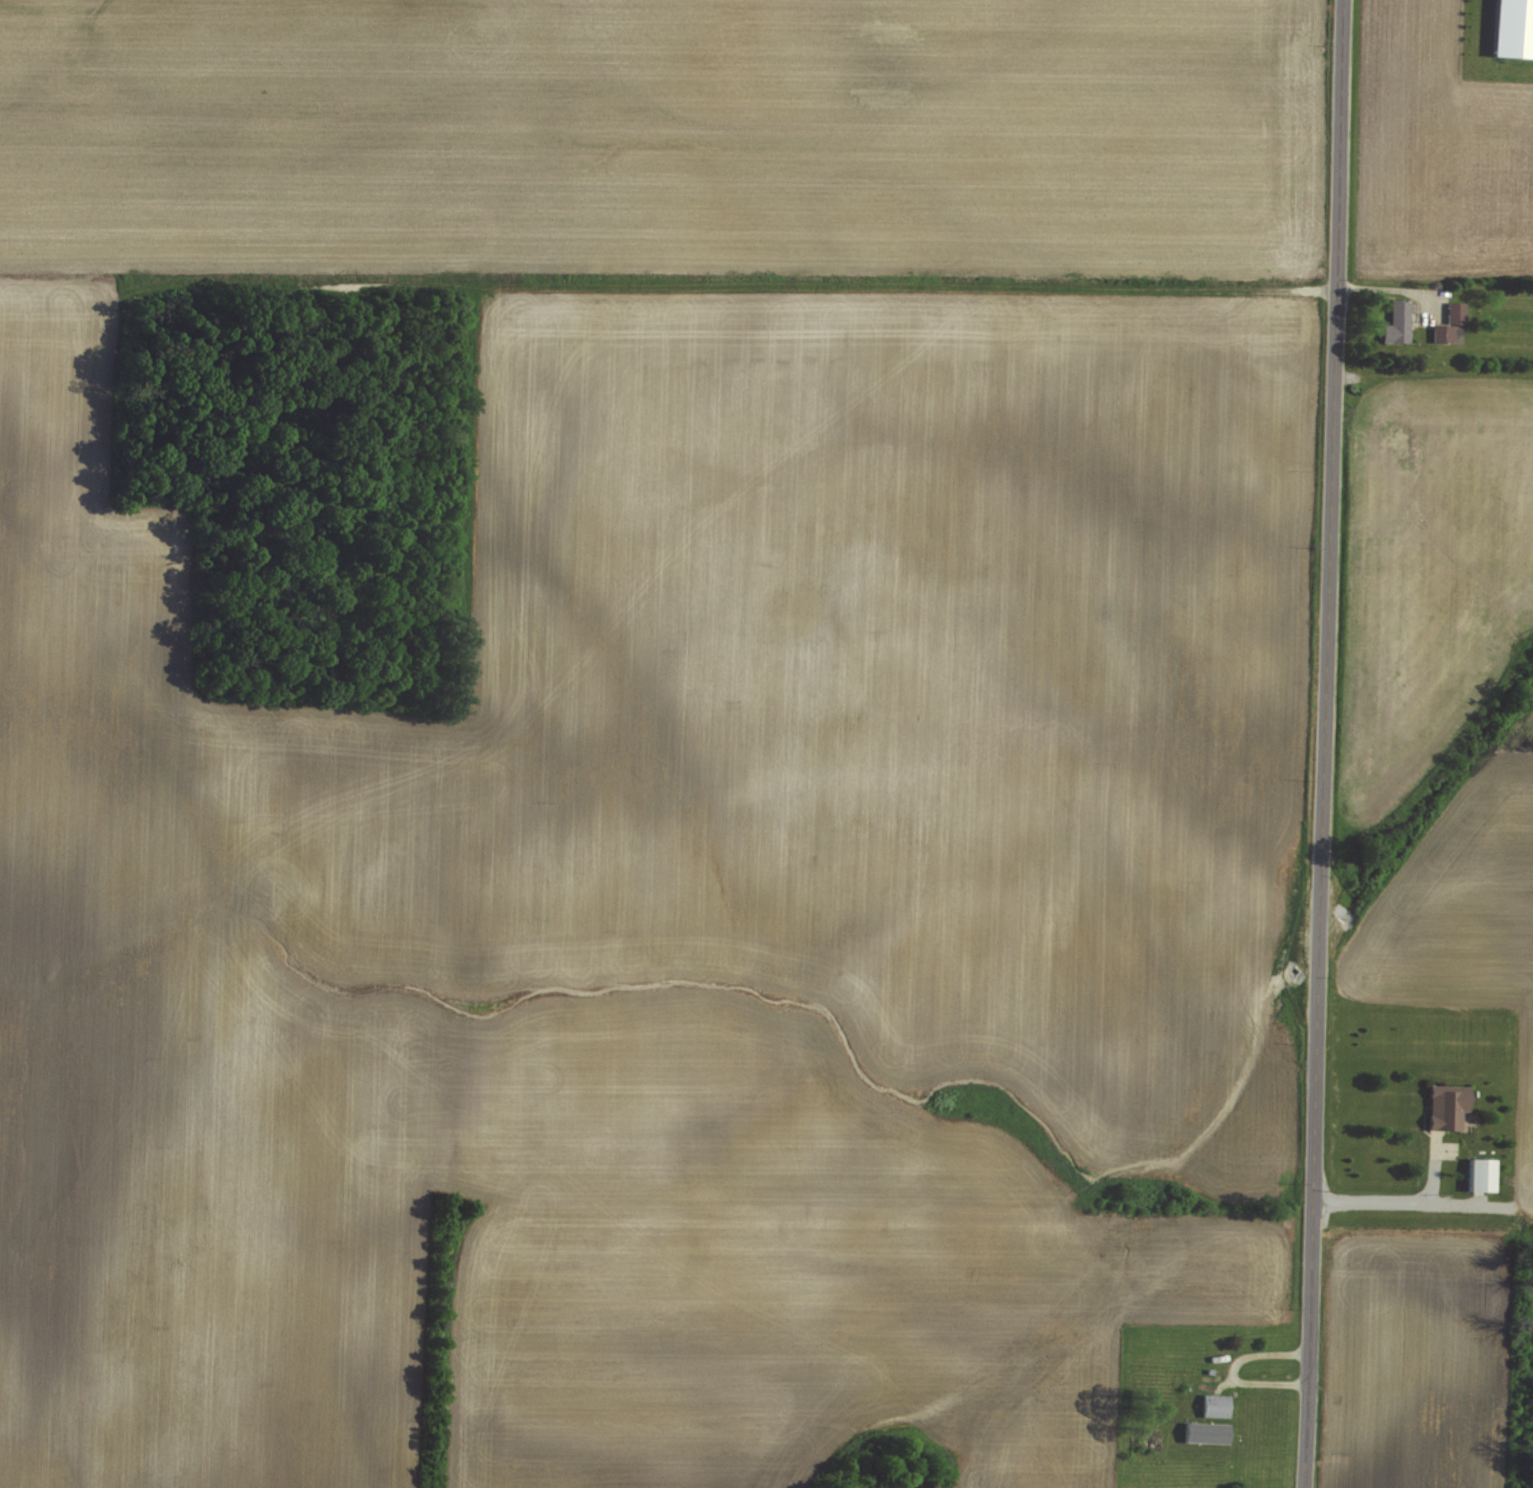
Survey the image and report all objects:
building: (1512, 29)
building: (1394, 321)
building: (1448, 325)
road: (1325, 744)
building: (1444, 1106)
building: (1478, 1173)
road: (1393, 1200)
building: (1212, 1405)
building: (1203, 1431)

